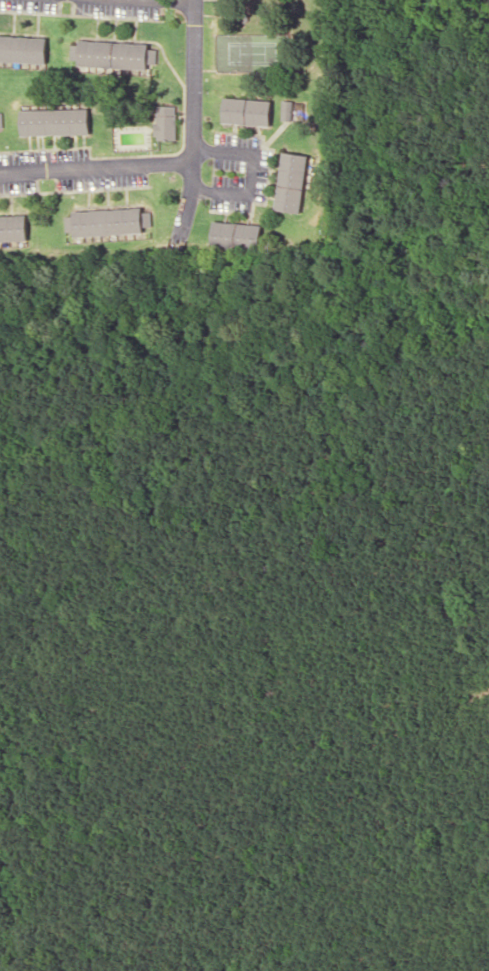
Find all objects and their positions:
road: (155, 3)
building: (22, 49)
park: (251, 52)
building: (113, 54)
building: (286, 110)
building: (247, 112)
building: (0, 120)
road: (195, 121)
building: (55, 122)
building: (165, 123)
road: (94, 167)
building: (290, 182)
building: (108, 222)
building: (12, 228)
building: (236, 236)

